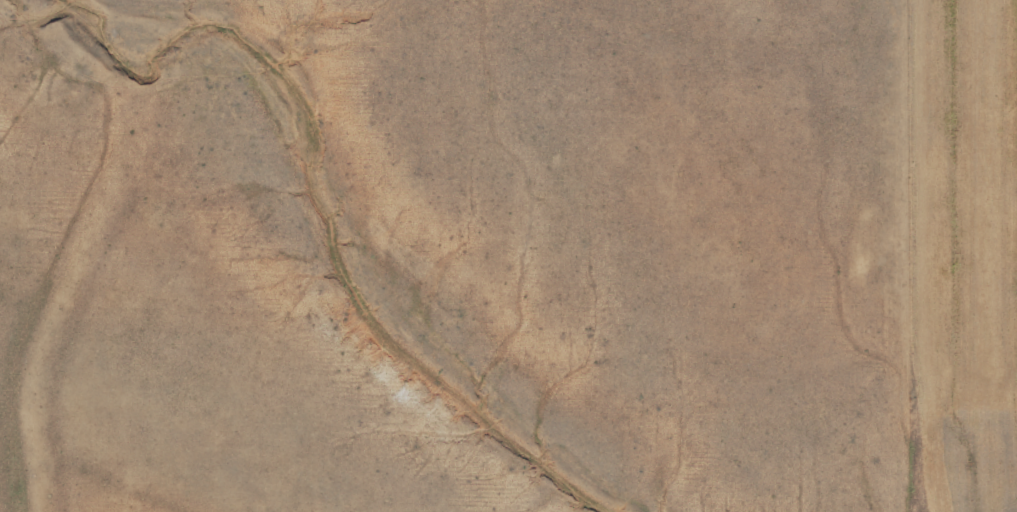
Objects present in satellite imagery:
road: (827, 218)
road: (974, 429)
road: (895, 461)

